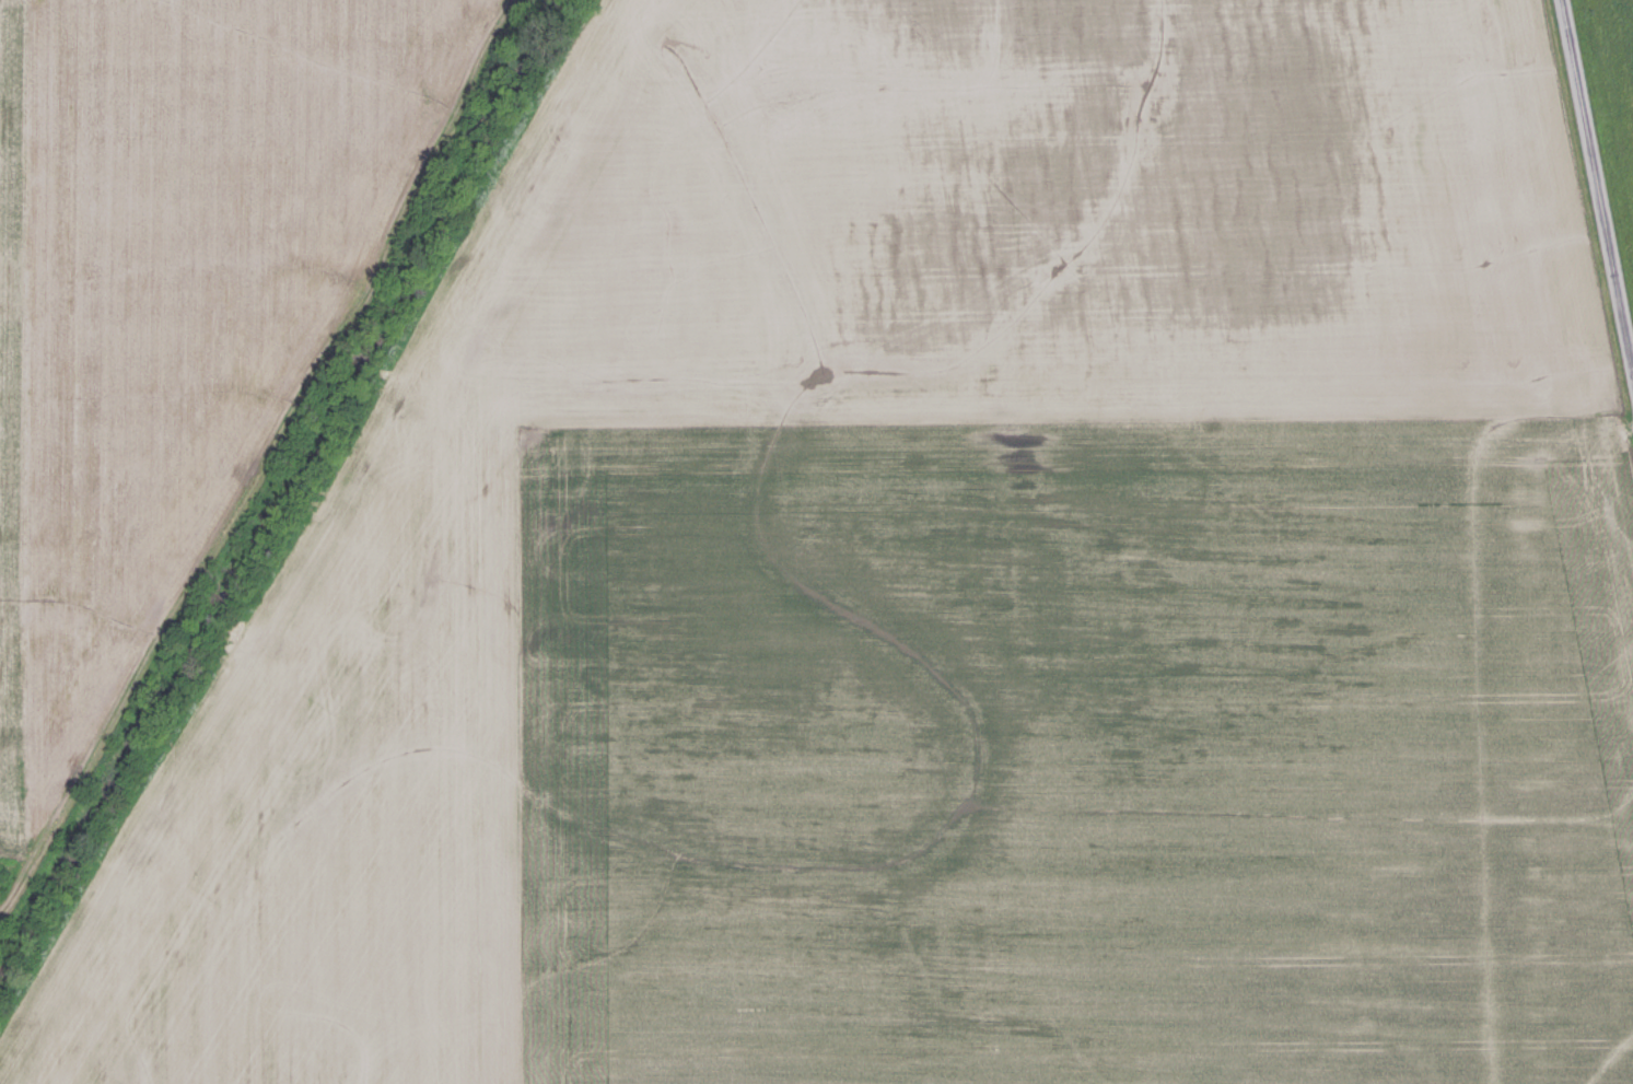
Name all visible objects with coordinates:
road: (1567, 340)

